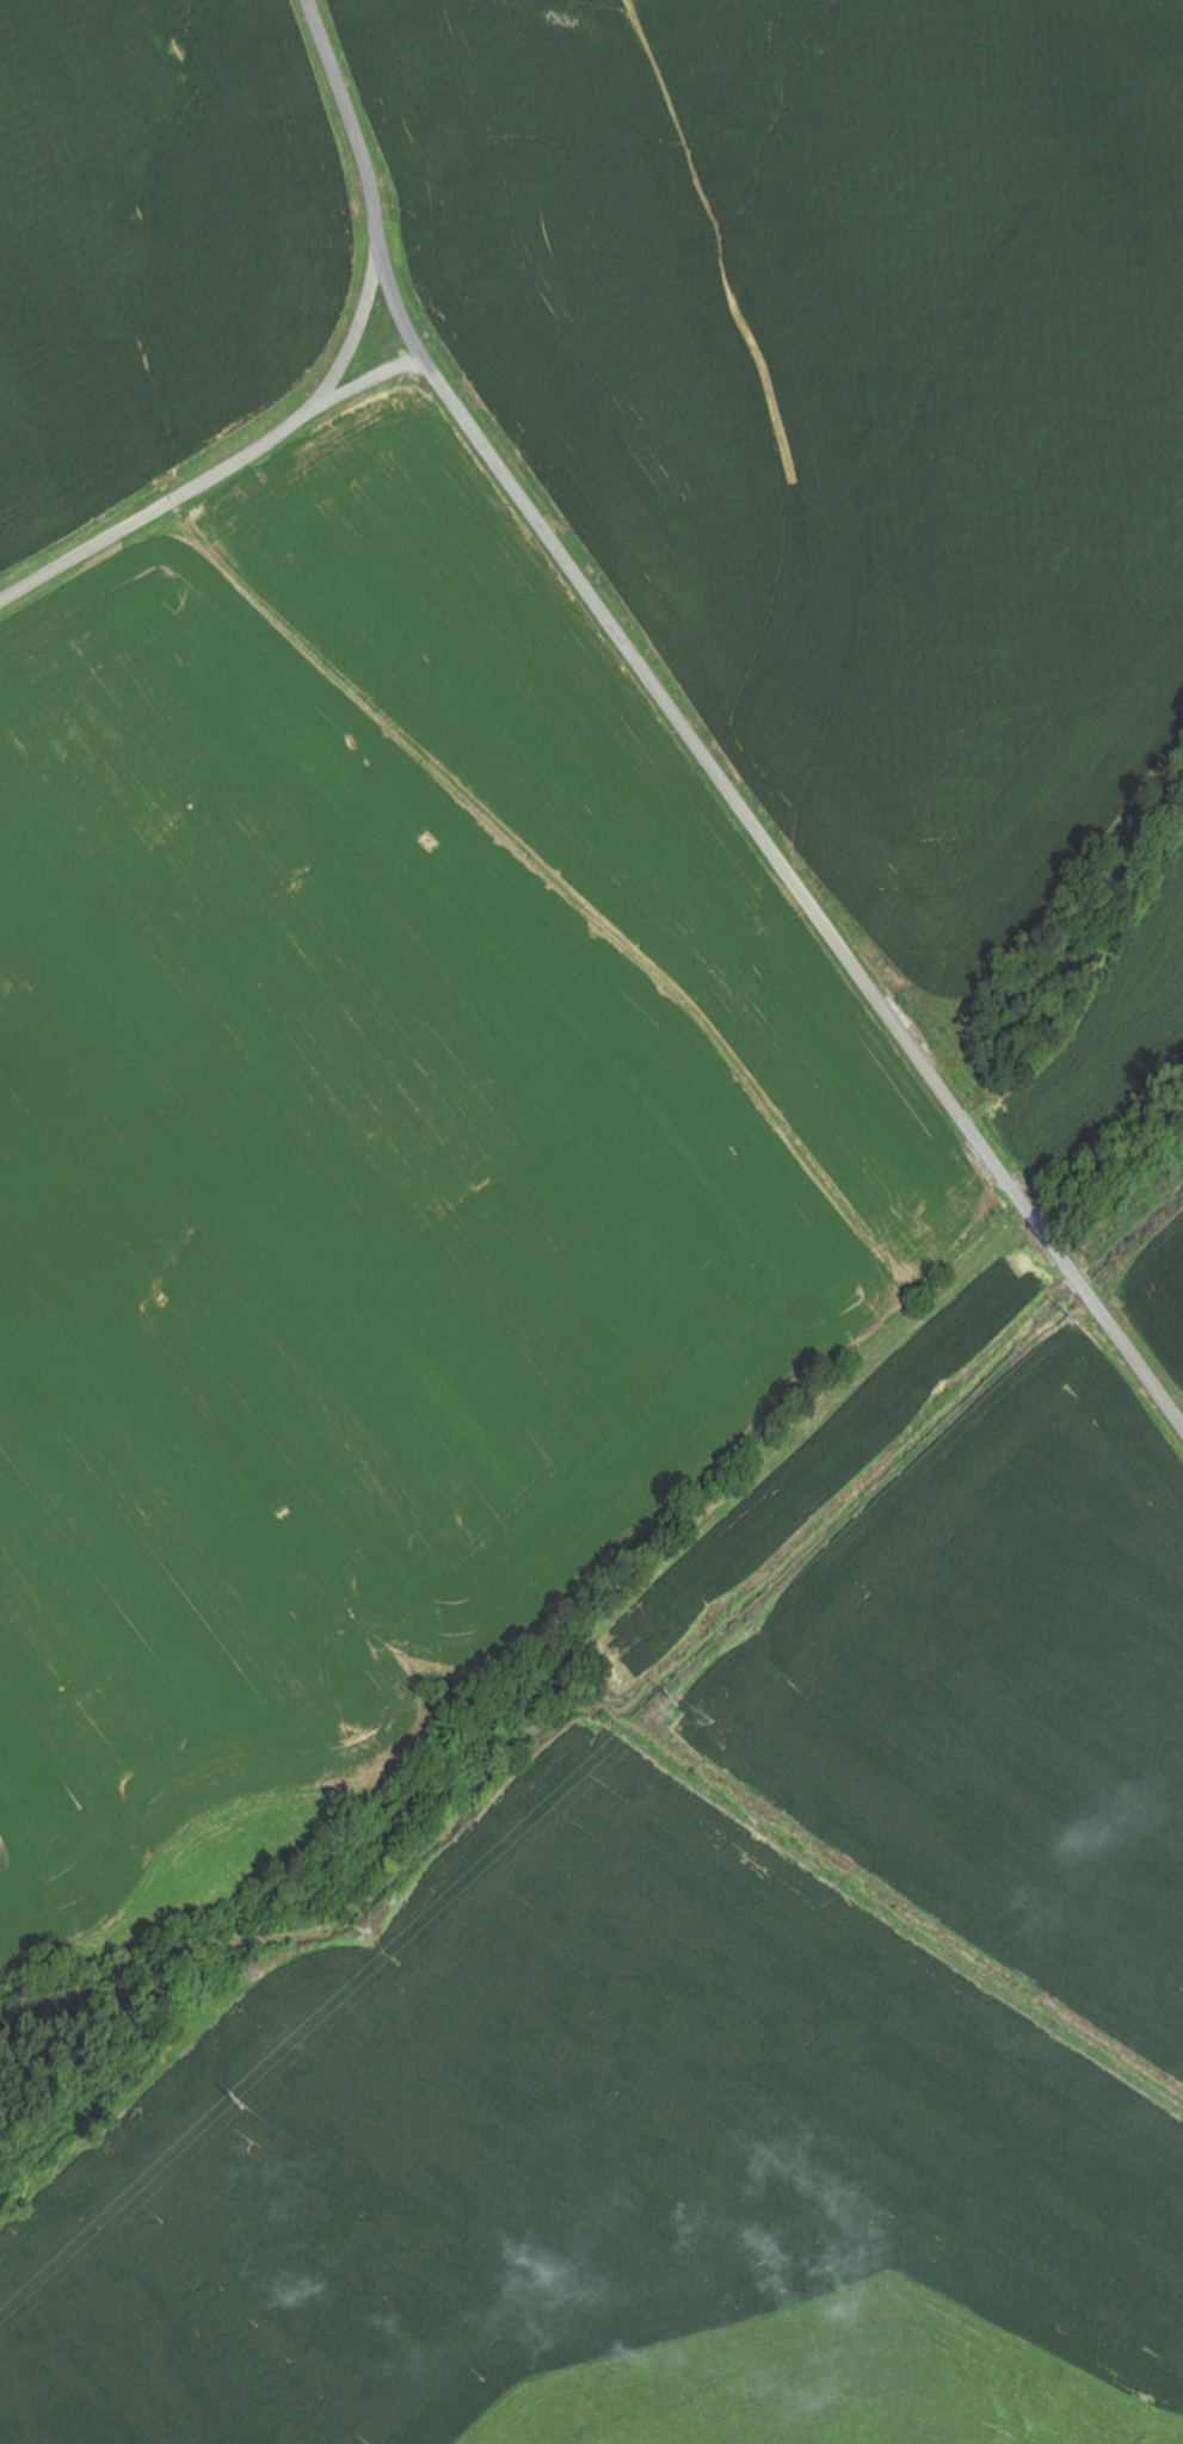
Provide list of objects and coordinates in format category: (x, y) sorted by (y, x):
road: (368, 179)
road: (363, 314)
road: (211, 479)
road: (802, 893)

